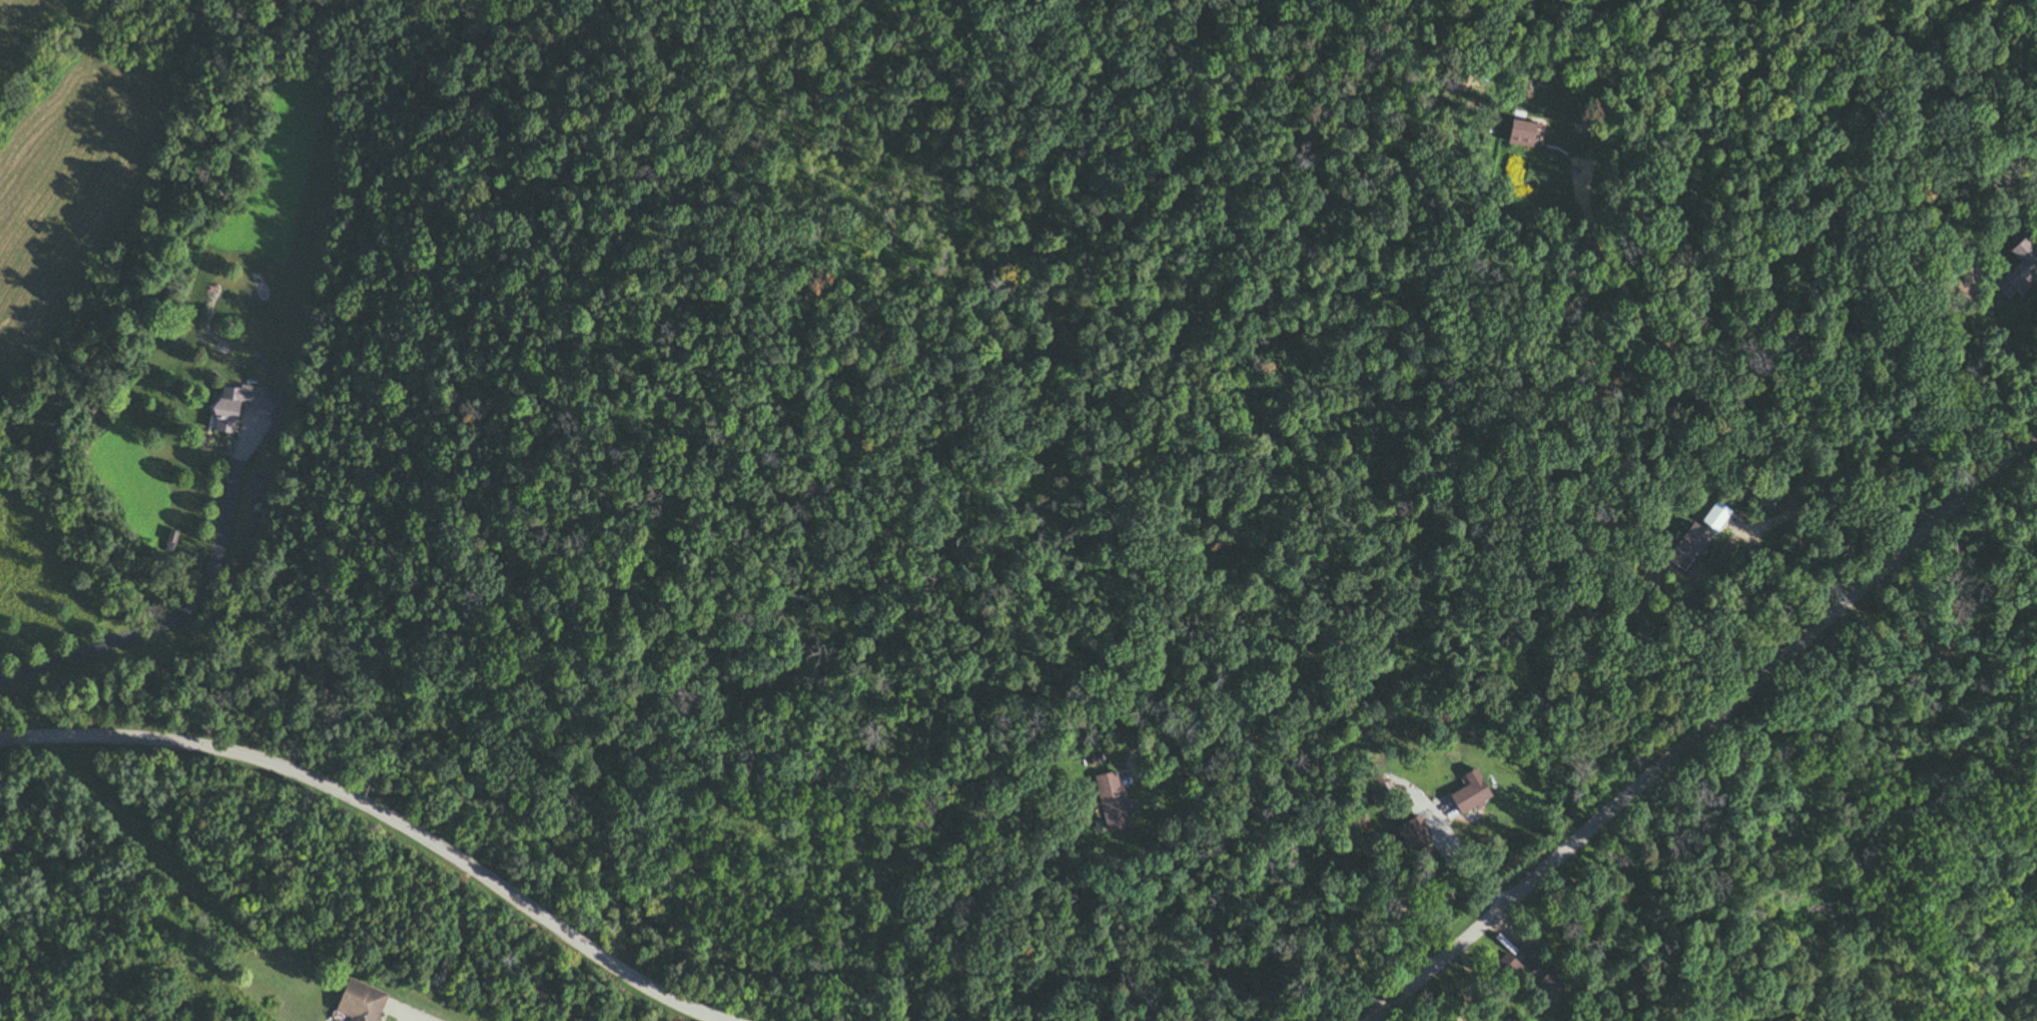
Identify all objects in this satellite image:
building: (1516, 131)
road: (2024, 232)
building: (2020, 267)
road: (1759, 365)
building: (228, 405)
building: (1794, 495)
road: (1798, 510)
building: (1714, 516)
building: (1690, 542)
road: (175, 622)
road: (1703, 724)
building: (1374, 790)
building: (1466, 797)
building: (1106, 801)
road: (380, 814)
building: (1411, 834)
road: (1446, 843)
road: (1292, 848)
building: (1499, 969)
building: (1544, 979)
building: (349, 1002)

